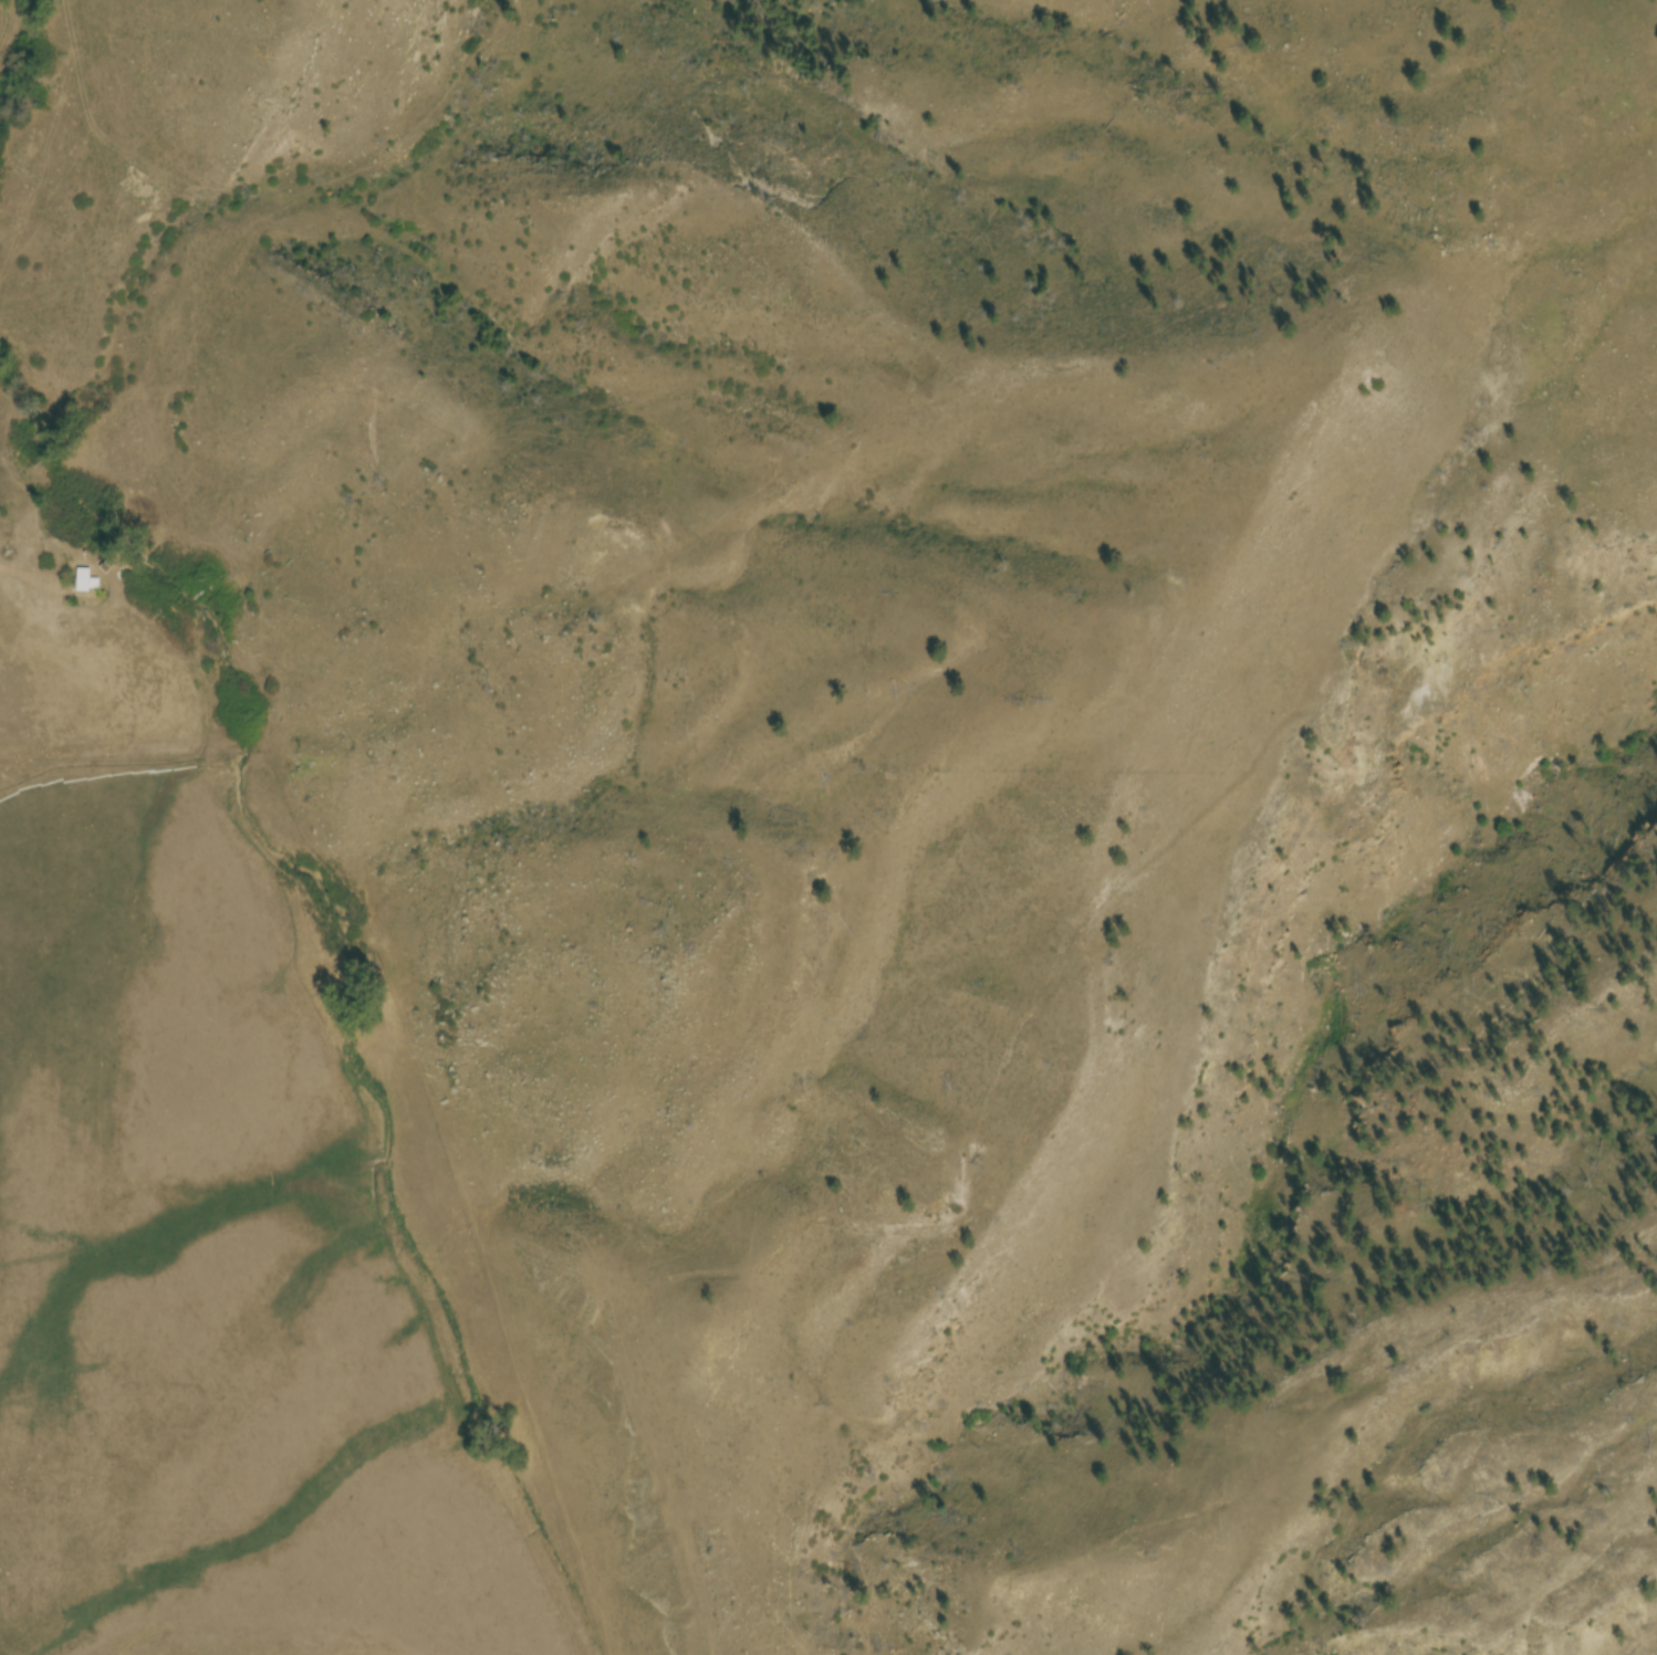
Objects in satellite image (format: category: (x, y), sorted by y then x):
building: (84, 584)

